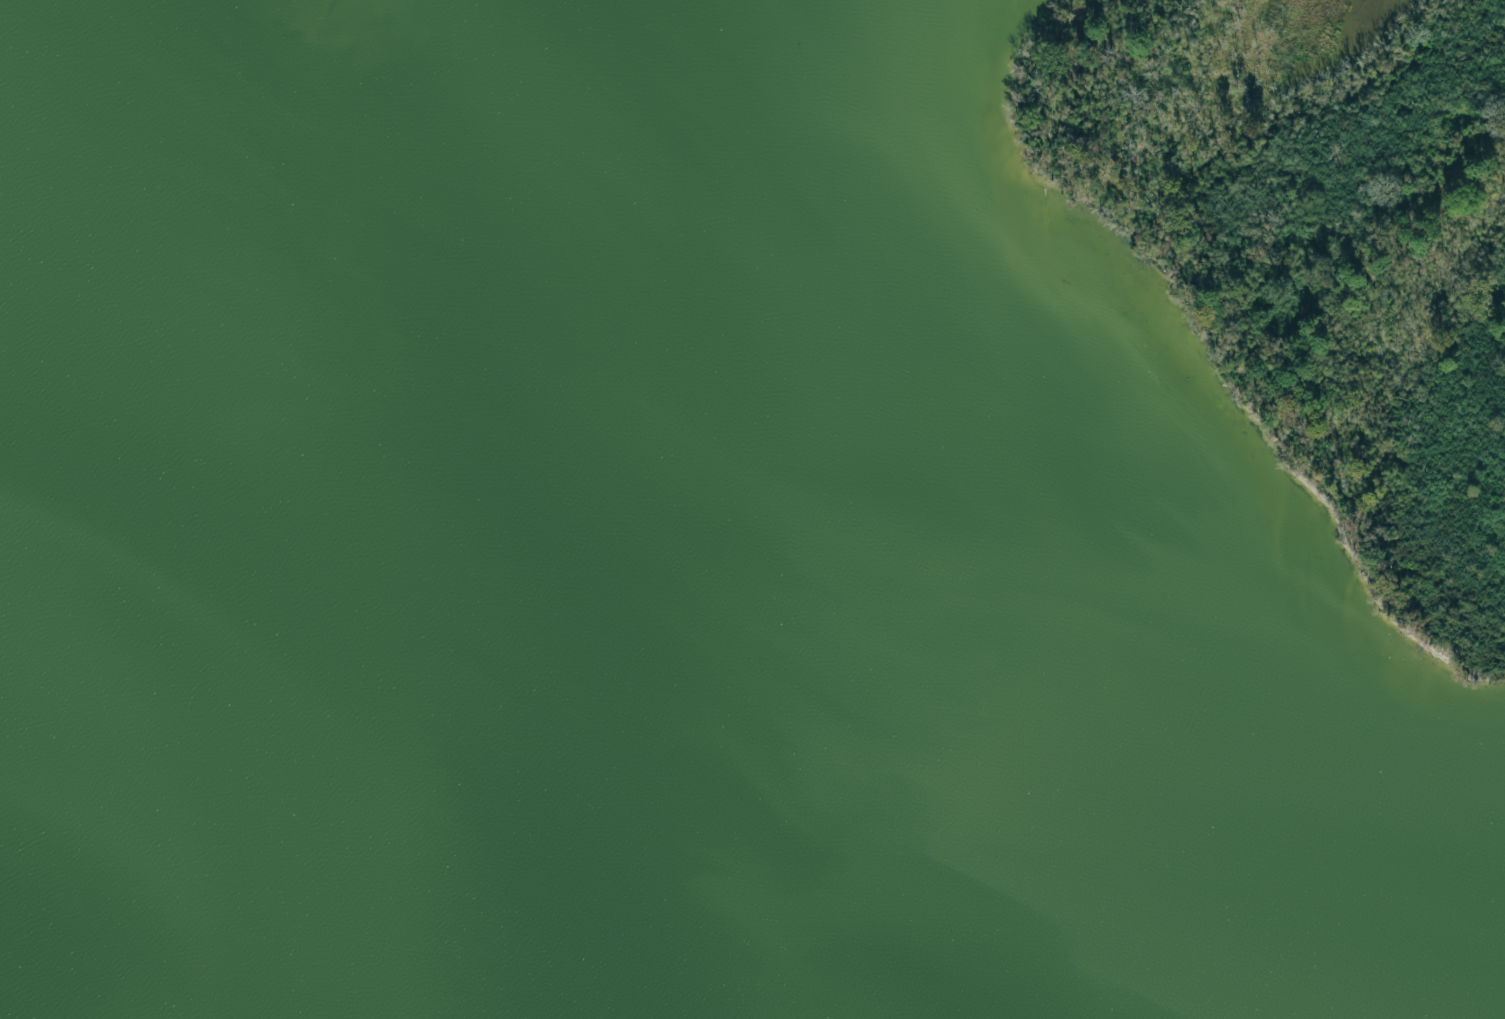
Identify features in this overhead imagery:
river: (610, 577)

